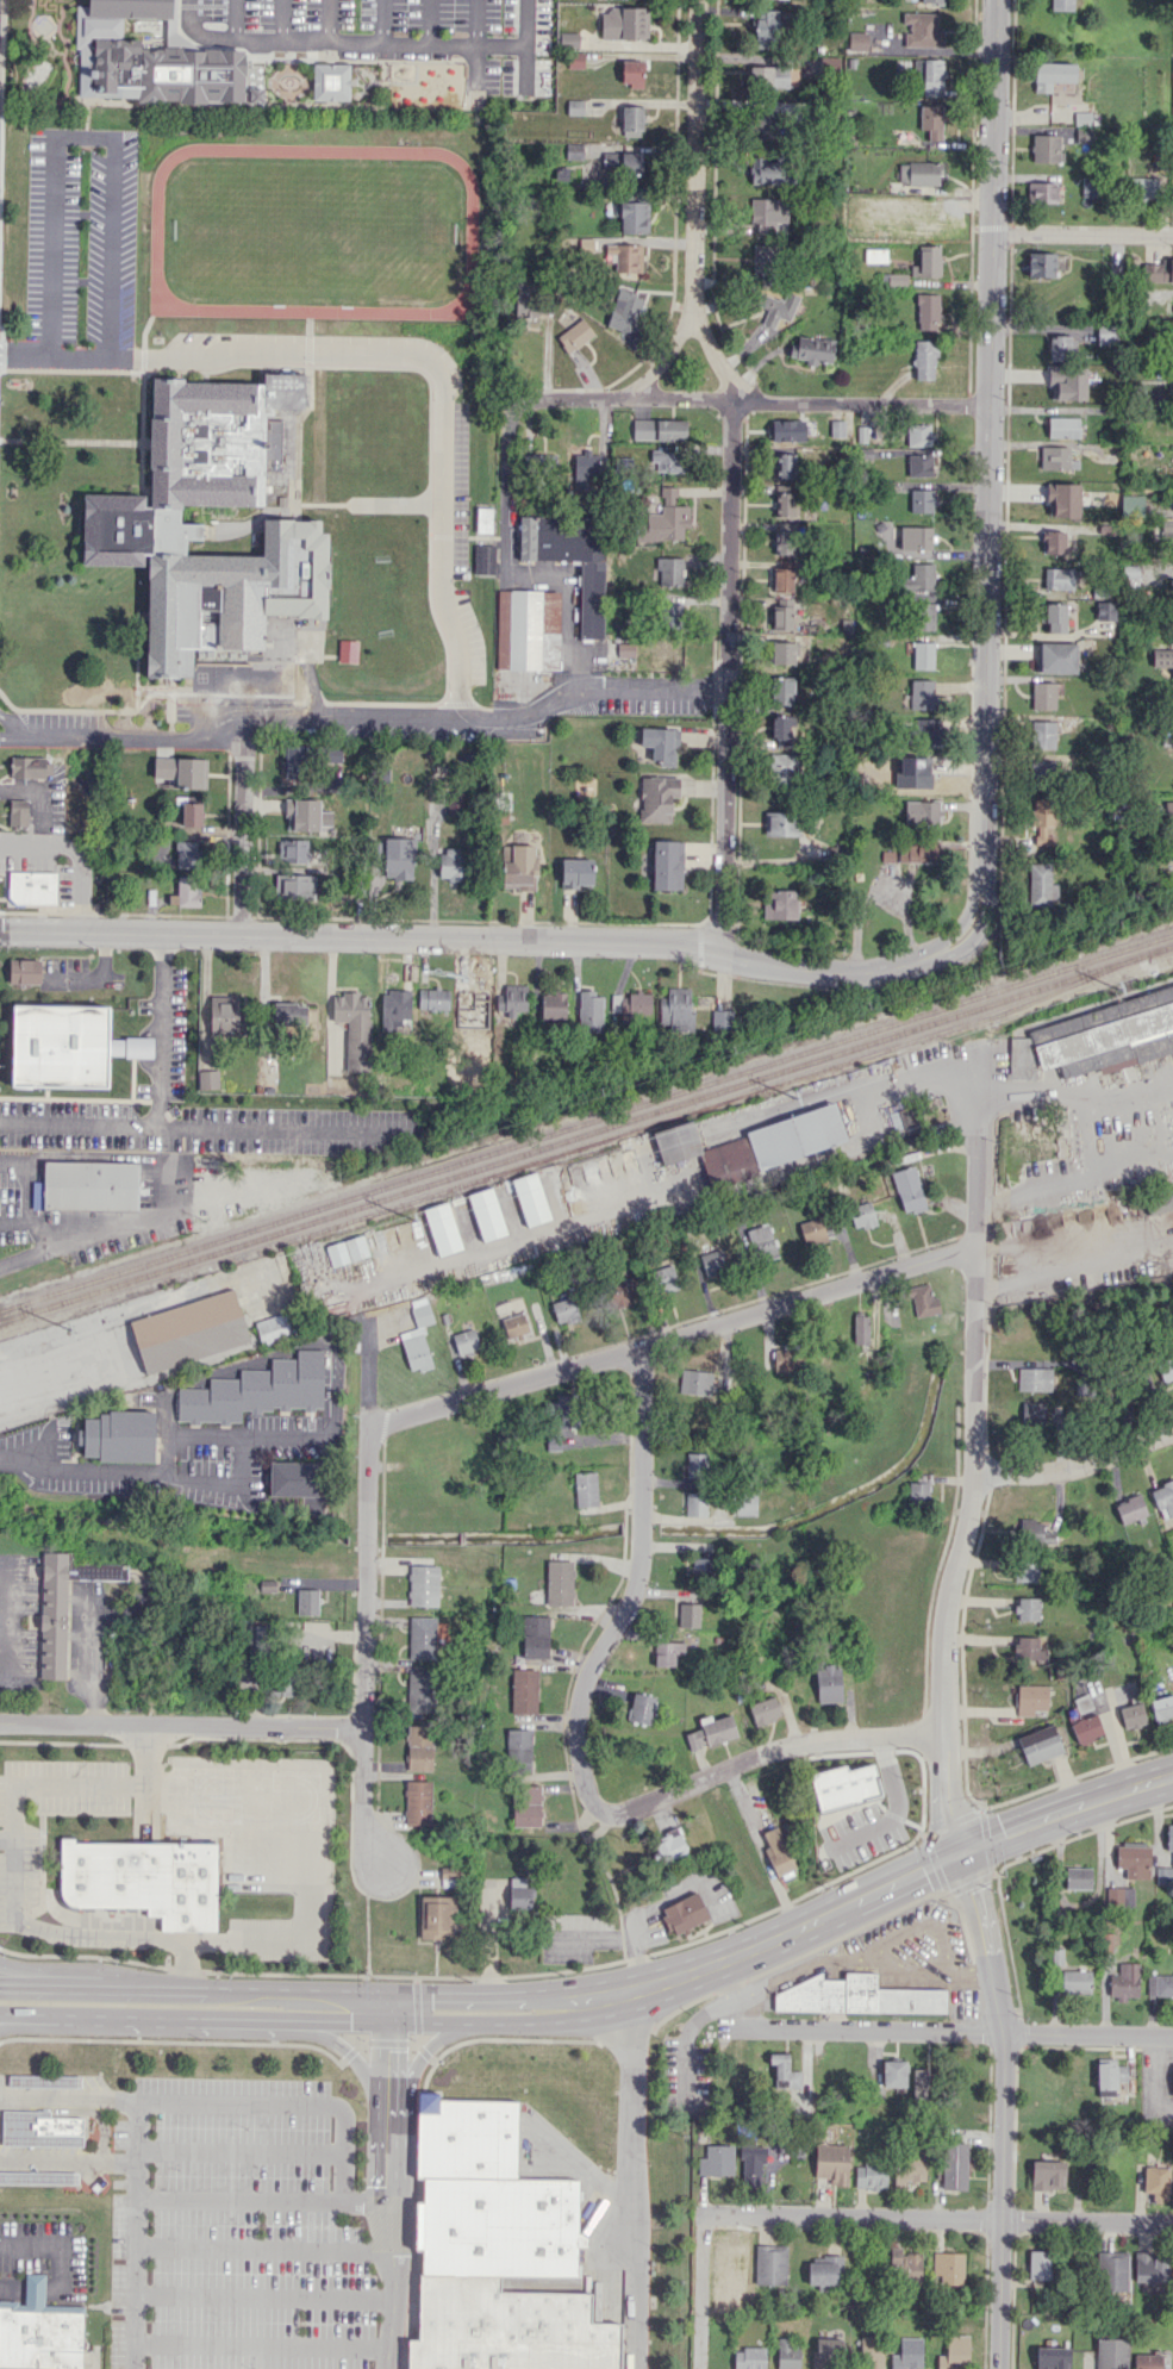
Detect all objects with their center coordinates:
building: (932, 1)
building: (1061, 4)
road: (235, 19)
road: (283, 20)
building: (624, 23)
building: (766, 29)
building: (922, 30)
parking lot: (393, 33)
road: (242, 39)
building: (857, 40)
road: (355, 42)
road: (429, 43)
road: (501, 44)
road: (526, 44)
road: (476, 50)
building: (151, 61)
building: (631, 70)
building: (1052, 74)
building: (929, 75)
building: (774, 76)
building: (331, 81)
building: (575, 107)
building: (631, 120)
building: (766, 120)
building: (931, 120)
road: (85, 135)
building: (1082, 135)
building: (1047, 148)
building: (574, 150)
building: (624, 163)
building: (765, 170)
building: (919, 173)
building: (1088, 186)
building: (1144, 187)
building: (1041, 192)
building: (762, 213)
building: (632, 216)
building: (923, 224)
park: (317, 229)
track: (472, 231)
parking lot: (81, 233)
road: (1084, 235)
building: (875, 255)
building: (630, 257)
building: (765, 258)
building: (926, 261)
building: (1041, 263)
building: (1159, 270)
building: (525, 299)
building: (776, 306)
building: (926, 311)
building: (626, 314)
building: (1106, 333)
building: (575, 335)
building: (1061, 347)
building: (812, 349)
road: (397, 354)
road: (661, 357)
building: (924, 360)
building: (1067, 382)
building: (1172, 386)
road: (661, 400)
building: (1062, 426)
building: (837, 428)
building: (660, 429)
building: (787, 430)
building: (918, 434)
building: (1055, 456)
road: (988, 457)
building: (666, 460)
building: (786, 465)
building: (919, 465)
road: (732, 470)
building: (579, 473)
building: (1062, 499)
building: (921, 500)
building: (785, 504)
building: (1131, 505)
building: (665, 518)
building: (483, 519)
building: (142, 528)
building: (1167, 534)
building: (916, 537)
building: (1054, 541)
building: (784, 542)
building: (570, 557)
building: (483, 559)
building: (669, 571)
building: (919, 578)
building: (1059, 578)
building: (782, 579)
building: (670, 609)
building: (1105, 610)
building: (924, 616)
building: (1054, 616)
building: (782, 617)
building: (528, 629)
building: (625, 649)
building: (348, 650)
building: (781, 650)
building: (923, 655)
building: (1056, 657)
building: (1162, 657)
building: (782, 691)
building: (922, 693)
building: (1043, 694)
road: (466, 717)
road: (8, 730)
building: (782, 730)
building: (926, 730)
building: (1042, 734)
road: (131, 735)
building: (1172, 736)
building: (661, 743)
building: (333, 754)
building: (293, 760)
building: (31, 767)
building: (782, 769)
building: (1041, 769)
building: (182, 771)
building: (928, 774)
building: (657, 797)
building: (1168, 809)
building: (922, 811)
building: (18, 812)
building: (191, 813)
building: (302, 813)
building: (781, 823)
building: (1043, 823)
road: (243, 836)
building: (1172, 843)
building: (293, 850)
building: (918, 850)
building: (187, 854)
building: (397, 856)
building: (453, 864)
building: (667, 865)
building: (519, 867)
building: (576, 872)
building: (294, 885)
building: (1041, 885)
building: (32, 886)
building: (188, 891)
building: (780, 904)
road: (501, 942)
building: (24, 971)
road: (101, 972)
building: (433, 998)
building: (473, 999)
building: (512, 999)
building: (630, 1003)
building: (553, 1005)
building: (676, 1009)
building: (395, 1010)
building: (589, 1011)
building: (223, 1012)
building: (289, 1014)
building: (723, 1020)
building: (354, 1028)
building: (1109, 1035)
building: (67, 1045)
building: (207, 1079)
road: (157, 1104)
railway: (697, 1109)
railway: (586, 1121)
building: (904, 1123)
road: (266, 1129)
railway: (586, 1133)
building: (795, 1135)
road: (1096, 1136)
building: (678, 1141)
road: (977, 1154)
building: (728, 1159)
building: (88, 1185)
road: (170, 1187)
building: (907, 1189)
building: (531, 1198)
building: (1159, 1203)
building: (486, 1214)
building: (862, 1215)
building: (442, 1228)
building: (812, 1230)
building: (761, 1241)
building: (347, 1249)
building: (713, 1260)
road: (1074, 1264)
building: (665, 1278)
building: (623, 1290)
building: (923, 1299)
building: (564, 1310)
building: (513, 1324)
building: (274, 1327)
building: (861, 1328)
building: (189, 1330)
building: (417, 1335)
road: (673, 1338)
building: (466, 1341)
building: (780, 1361)
building: (1166, 1369)
building: (1034, 1378)
building: (695, 1382)
building: (1142, 1382)
building: (256, 1390)
building: (564, 1410)
building: (1032, 1411)
road: (180, 1432)
building: (118, 1435)
building: (697, 1465)
road: (1077, 1465)
building: (292, 1478)
road: (227, 1483)
building: (586, 1489)
building: (918, 1492)
building: (1163, 1498)
building: (695, 1503)
building: (744, 1504)
building: (1131, 1508)
road: (966, 1529)
building: (1035, 1532)
building: (699, 1567)
building: (1028, 1569)
building: (560, 1582)
building: (423, 1584)
road: (632, 1589)
road: (364, 1591)
building: (307, 1601)
building: (63, 1604)
building: (1027, 1608)
building: (688, 1615)
road: (335, 1634)
building: (536, 1637)
building: (423, 1638)
building: (258, 1641)
building: (1029, 1648)
building: (667, 1652)
road: (92, 1654)
building: (828, 1683)
building: (283, 1685)
building: (418, 1690)
building: (524, 1690)
building: (1031, 1698)
building: (1162, 1707)
building: (642, 1708)
building: (765, 1709)
building: (1133, 1715)
road: (180, 1726)
building: (1085, 1727)
building: (711, 1731)
road: (1116, 1739)
building: (1040, 1744)
building: (519, 1746)
building: (419, 1747)
road: (766, 1753)
road: (1065, 1781)
building: (844, 1785)
building: (418, 1802)
building: (528, 1804)
road: (893, 1813)
road: (1156, 1819)
road: (6, 1837)
building: (1169, 1837)
road: (1108, 1843)
building: (668, 1845)
road: (761, 1849)
building: (778, 1851)
traffic signals: (962, 1851)
building: (1134, 1860)
building: (1163, 1875)
building: (449, 1876)
building: (144, 1877)
road: (893, 1882)
building: (520, 1893)
road: (674, 1894)
building: (1119, 1896)
road: (1082, 1901)
building: (685, 1913)
building: (436, 1914)
road: (18, 1919)
road: (900, 1934)
road: (614, 1935)
road: (185, 1960)
road: (969, 1971)
road: (58, 1974)
building: (1075, 1981)
building: (1124, 1981)
road: (58, 1983)
road: (131, 1984)
building: (1160, 1984)
road: (195, 1985)
road: (316, 1988)
traffic signals: (387, 1990)
road: (466, 1991)
road: (580, 1991)
building: (859, 1995)
road: (44, 2012)
road: (188, 2015)
road: (44, 2019)
traffic signals: (387, 2021)
road: (455, 2021)
road: (923, 2032)
road: (685, 2038)
road: (352, 2055)
road: (387, 2056)
road: (419, 2063)
building: (785, 2071)
building: (893, 2072)
building: (1109, 2076)
building: (44, 2080)
road: (1155, 2080)
building: (1172, 2080)
road: (68, 2097)
road: (286, 2103)
road: (1002, 2107)
building: (57, 2125)
building: (31, 2130)
road: (136, 2131)
building: (467, 2137)
road: (239, 2151)
building: (717, 2159)
road: (55, 2162)
building: (831, 2162)
building: (754, 2165)
building: (954, 2165)
building: (909, 2167)
building: (871, 2175)
building: (1047, 2175)
building: (39, 2176)
road: (631, 2180)
building: (1156, 2180)
road: (232, 2199)
road: (937, 2218)
parking lot: (261, 2221)
building: (499, 2226)
road: (392, 2245)
road: (264, 2246)
building: (724, 2257)
building: (770, 2264)
building: (1040, 2264)
building: (905, 2267)
building: (948, 2267)
building: (1149, 2267)
building: (1113, 2270)
building: (822, 2273)
road: (135, 2283)
road: (698, 2290)
road: (264, 2295)
building: (507, 2329)
building: (40, 2331)
road: (262, 2344)
building: (788, 2352)
building: (826, 2352)
building: (872, 2352)
building: (954, 2352)
building: (907, 2354)
building: (1111, 2354)
building: (1052, 2357)
building: (749, 2358)
building: (1147, 2361)

